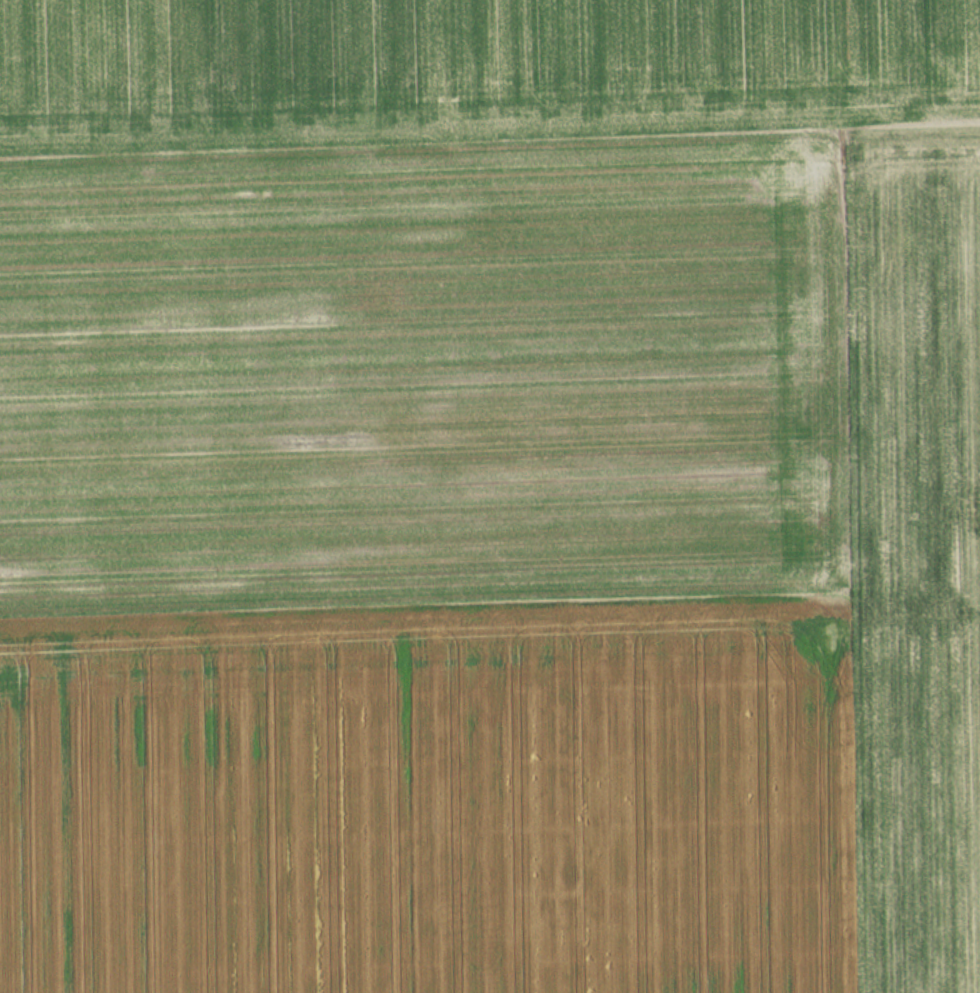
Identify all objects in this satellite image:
crop: (453, 61)
crop: (495, 559)

